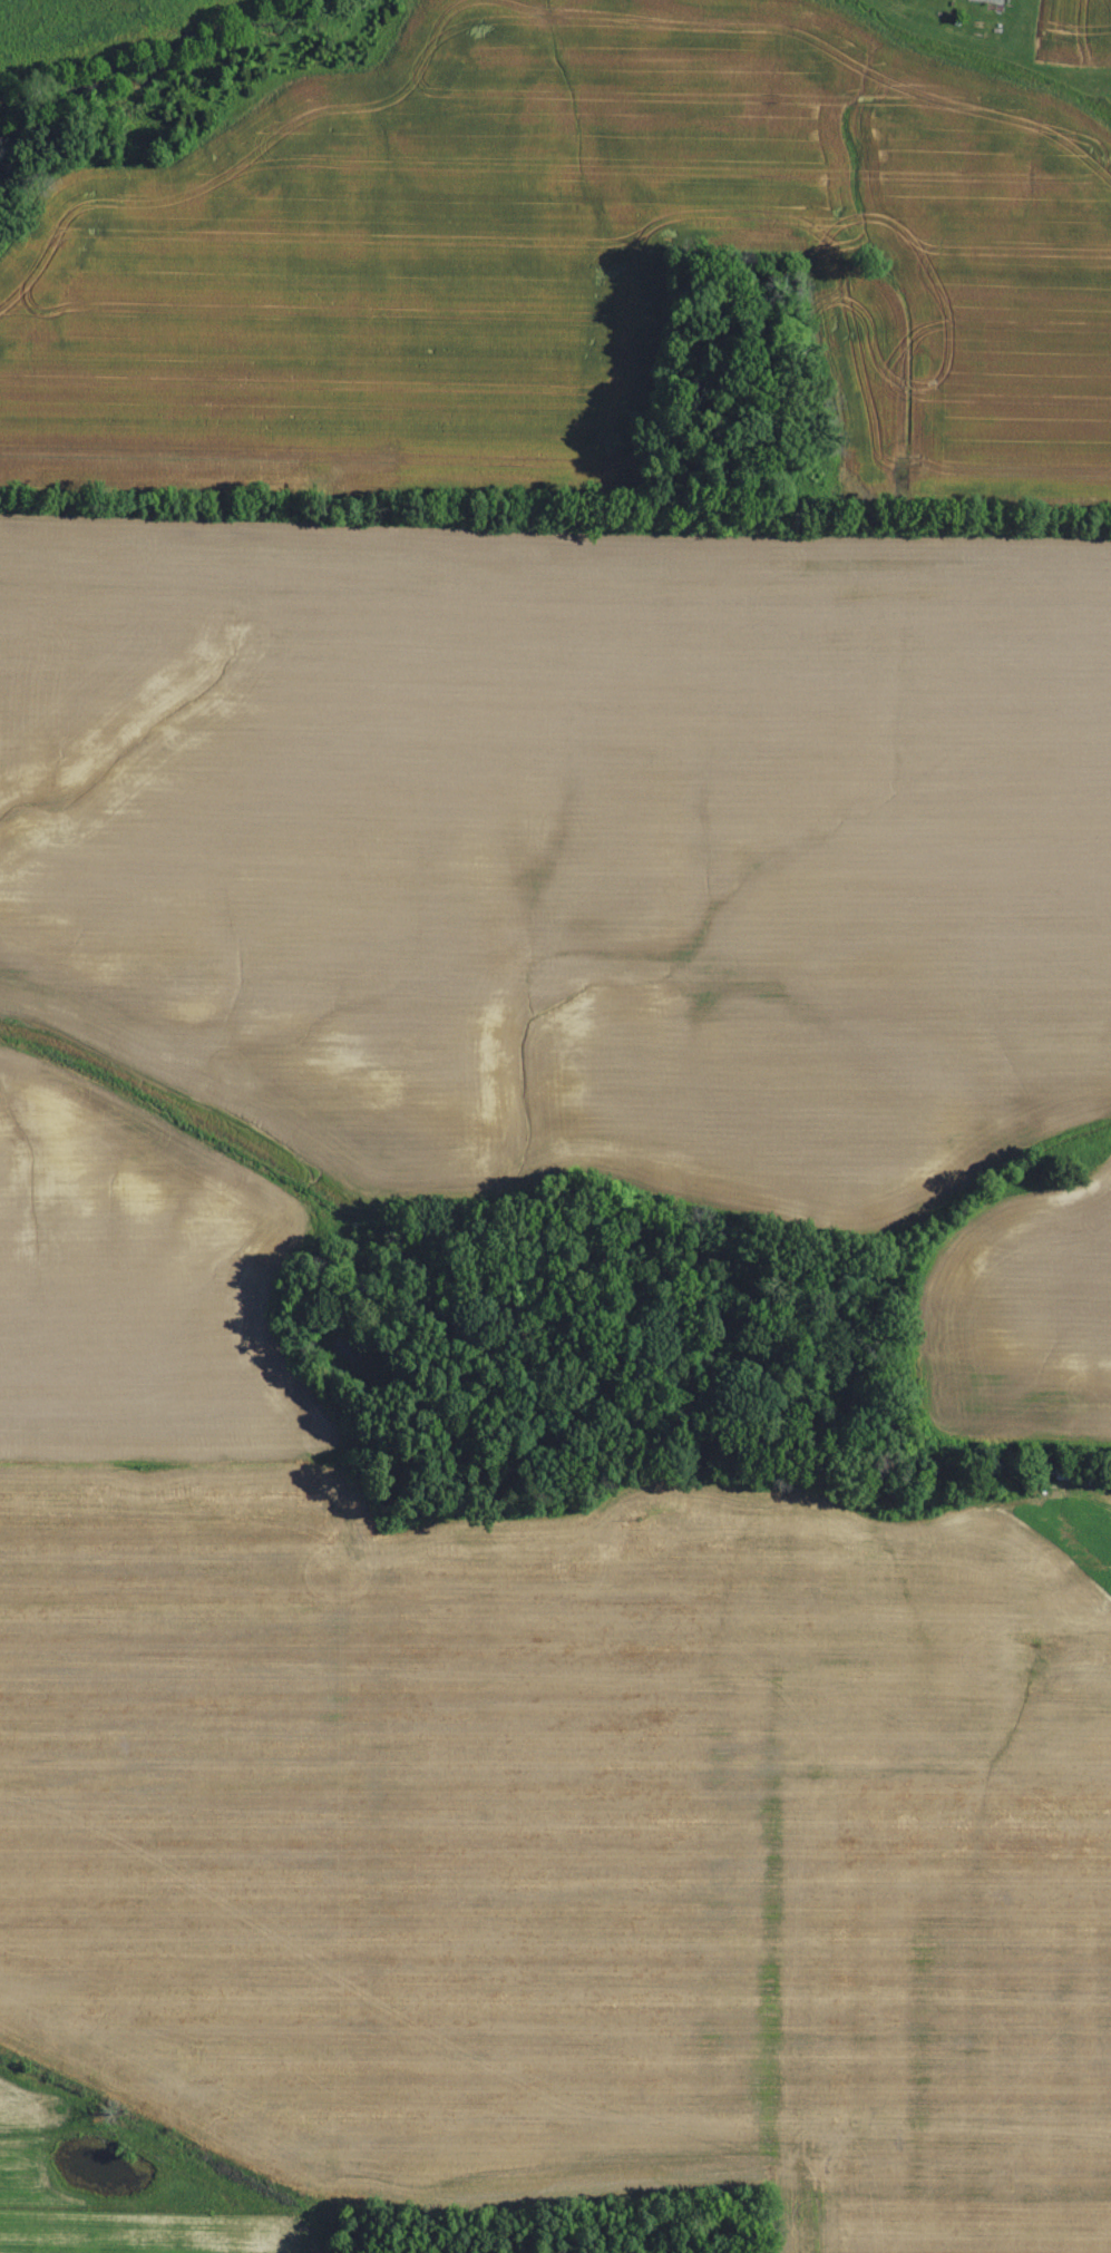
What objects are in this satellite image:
building: (982, 0)

